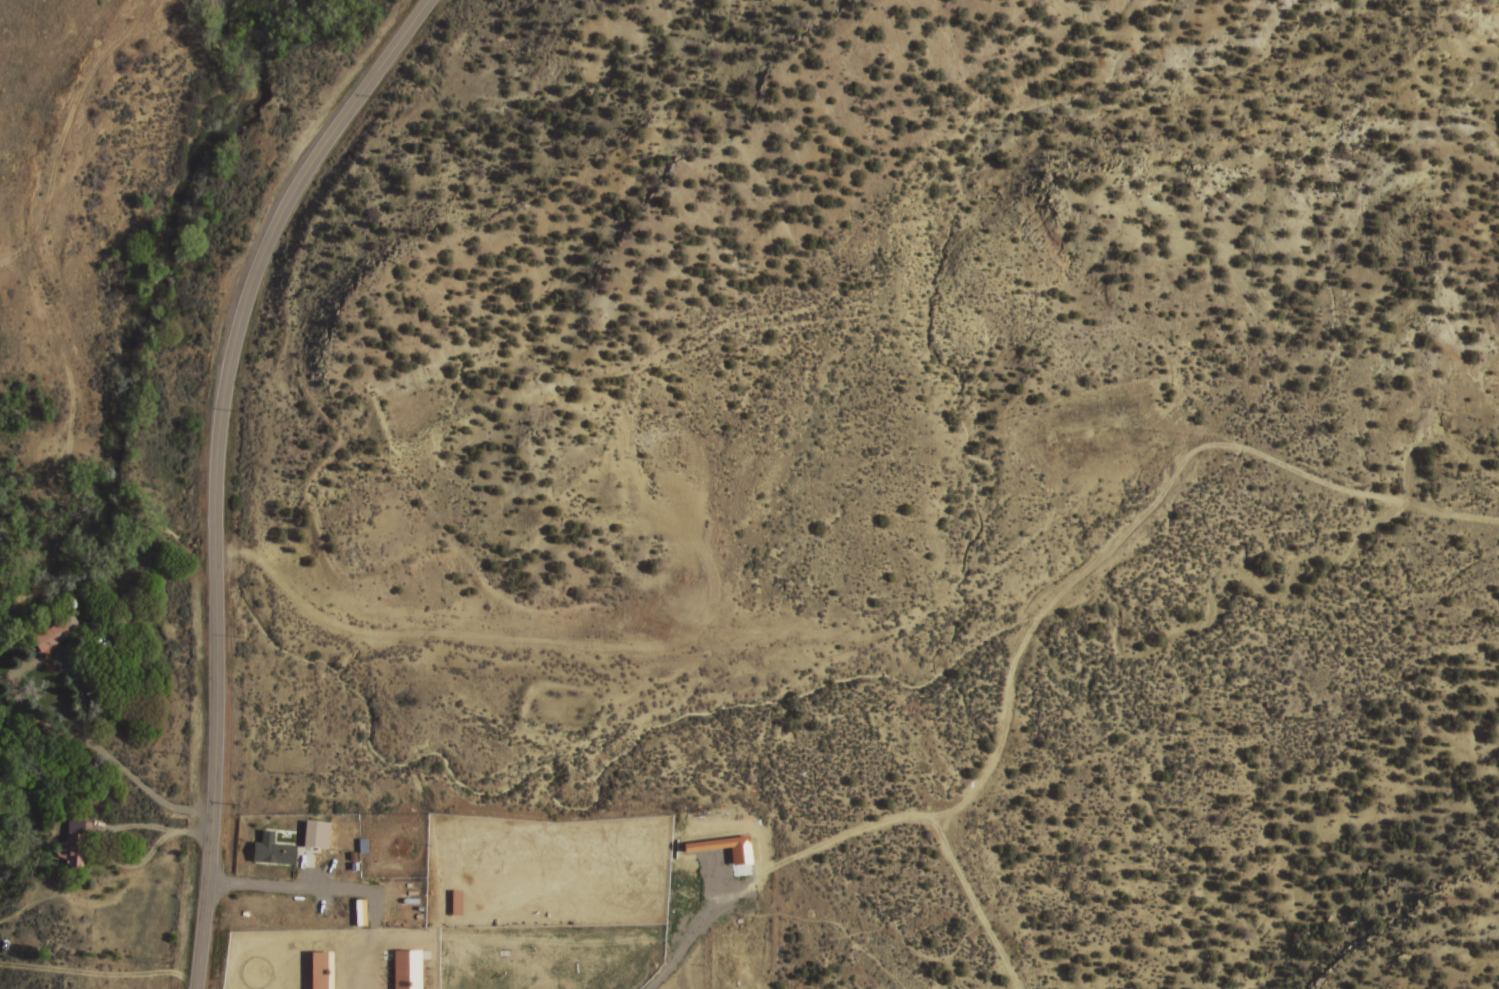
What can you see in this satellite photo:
river: (148, 311)
road: (217, 466)
building: (669, 574)
building: (55, 637)
road: (856, 830)
building: (316, 835)
building: (70, 844)
building: (272, 851)
building: (8, 947)

